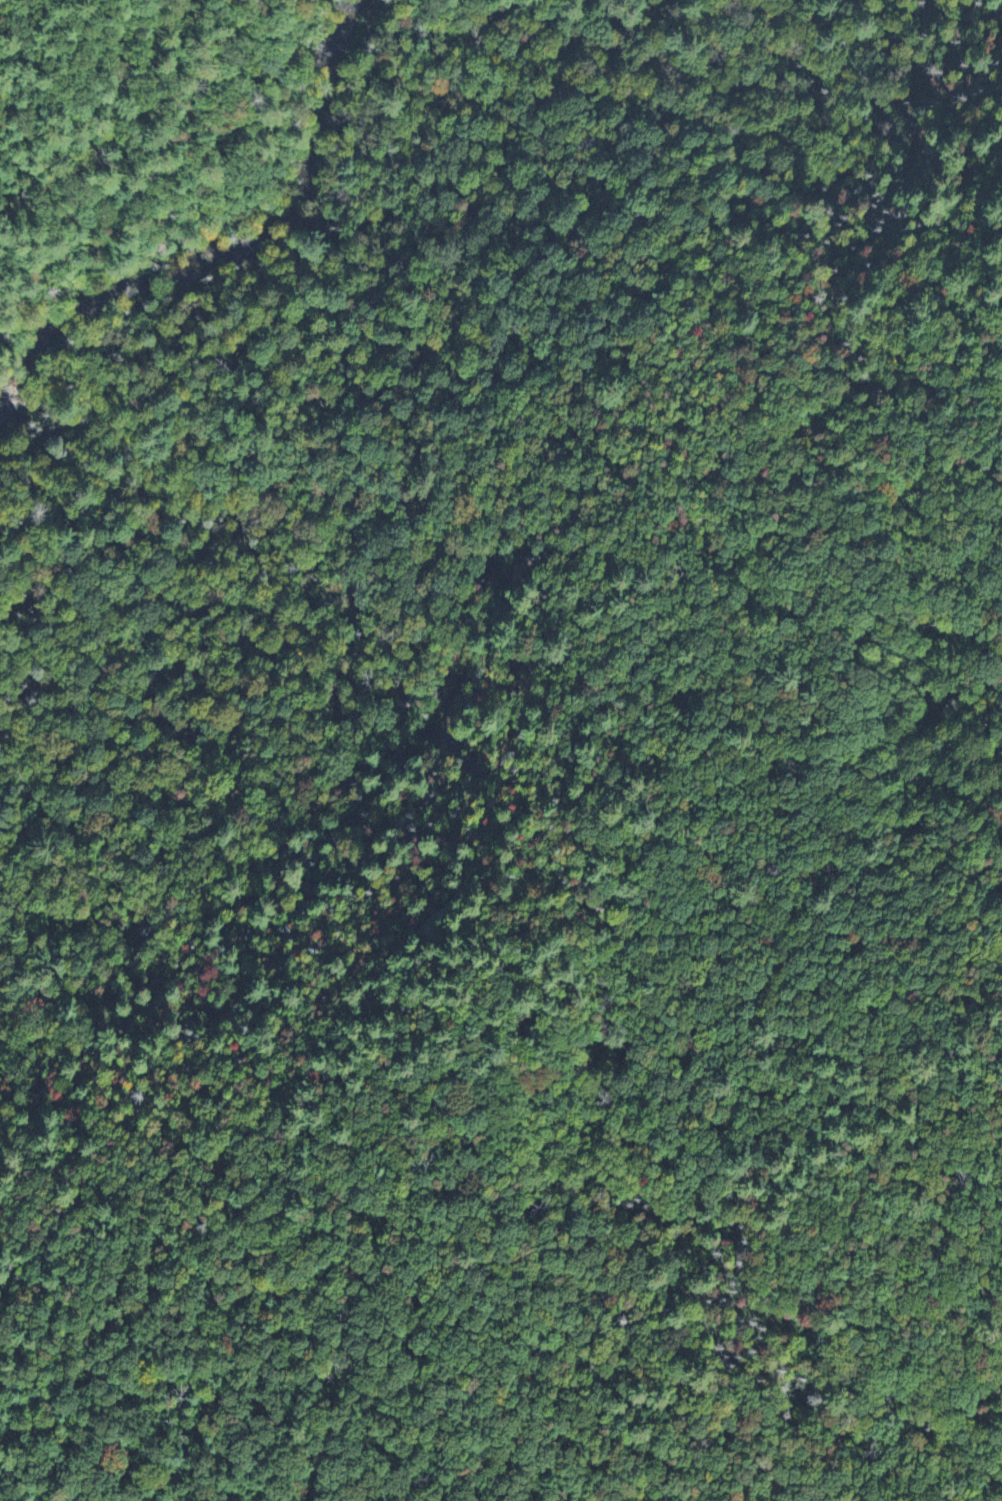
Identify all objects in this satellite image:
river: (245, 262)

